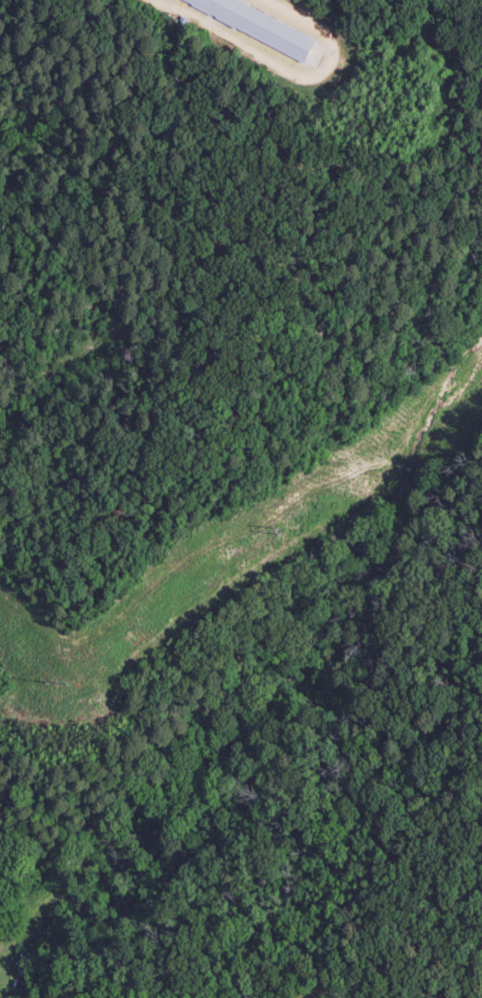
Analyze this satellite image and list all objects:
building: (259, 23)
road: (3, 374)

